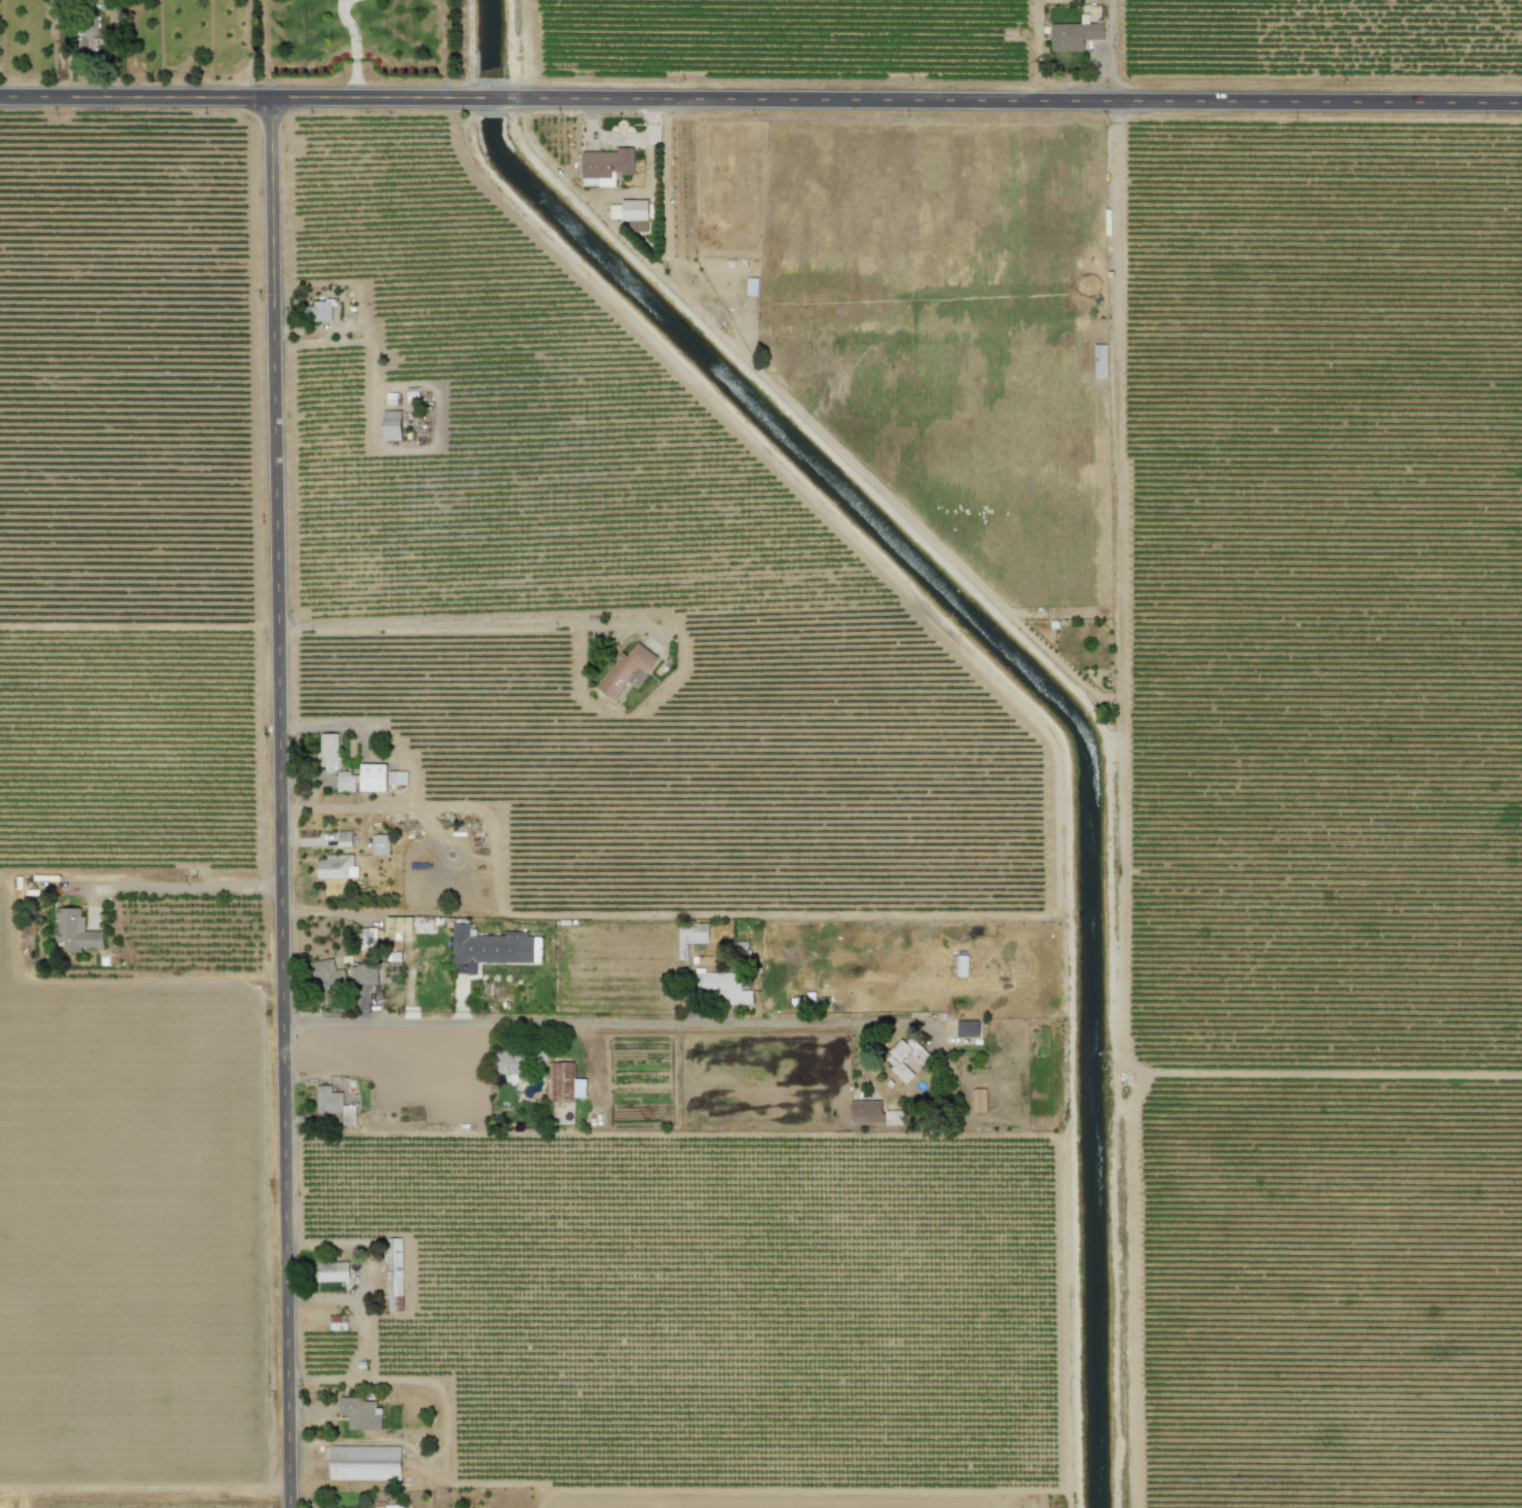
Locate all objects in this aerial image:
building: (1073, 35)
building: (87, 40)
road: (354, 47)
road: (1108, 50)
road: (761, 98)
building: (605, 166)
building: (635, 214)
building: (319, 311)
building: (1099, 361)
building: (391, 425)
road: (451, 625)
building: (625, 670)
building: (327, 752)
road: (410, 773)
building: (371, 777)
building: (396, 778)
building: (344, 782)
road: (280, 802)
building: (343, 838)
building: (379, 845)
building: (335, 867)
road: (188, 886)
road: (332, 913)
building: (398, 924)
building: (75, 931)
building: (690, 936)
building: (366, 937)
building: (489, 948)
building: (324, 972)
building: (362, 975)
building: (723, 987)
road: (586, 1026)
building: (966, 1028)
building: (892, 1059)
building: (507, 1066)
building: (565, 1083)
building: (978, 1100)
building: (333, 1104)
building: (865, 1111)
building: (893, 1118)
building: (332, 1272)
building: (392, 1272)
building: (338, 1323)
building: (359, 1413)
building: (364, 1463)
building: (388, 1505)
building: (336, 1507)

